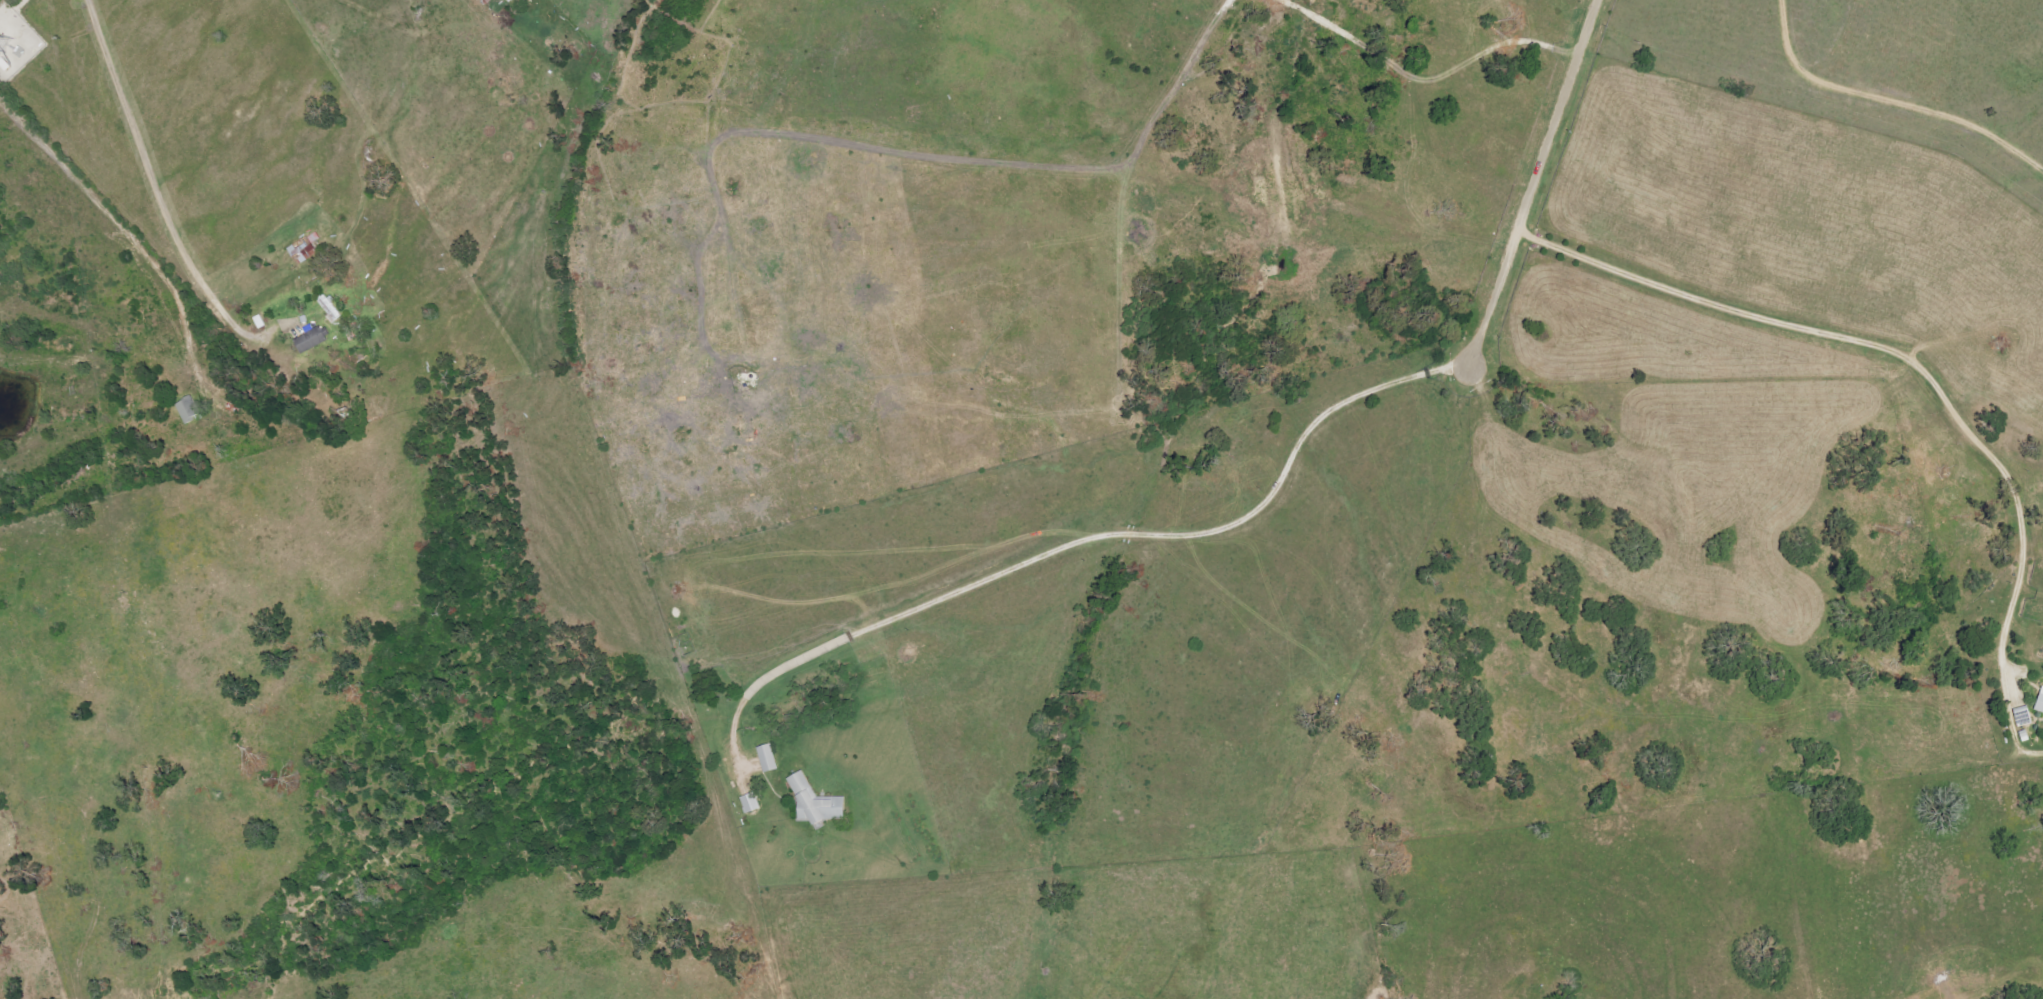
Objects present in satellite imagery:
building: (487, 1)
road: (1559, 117)
road: (162, 198)
road: (128, 230)
building: (304, 249)
building: (329, 309)
building: (307, 337)
road: (1912, 358)
building: (188, 410)
road: (1170, 536)
building: (2040, 704)
building: (767, 758)
building: (815, 802)
building: (750, 803)

